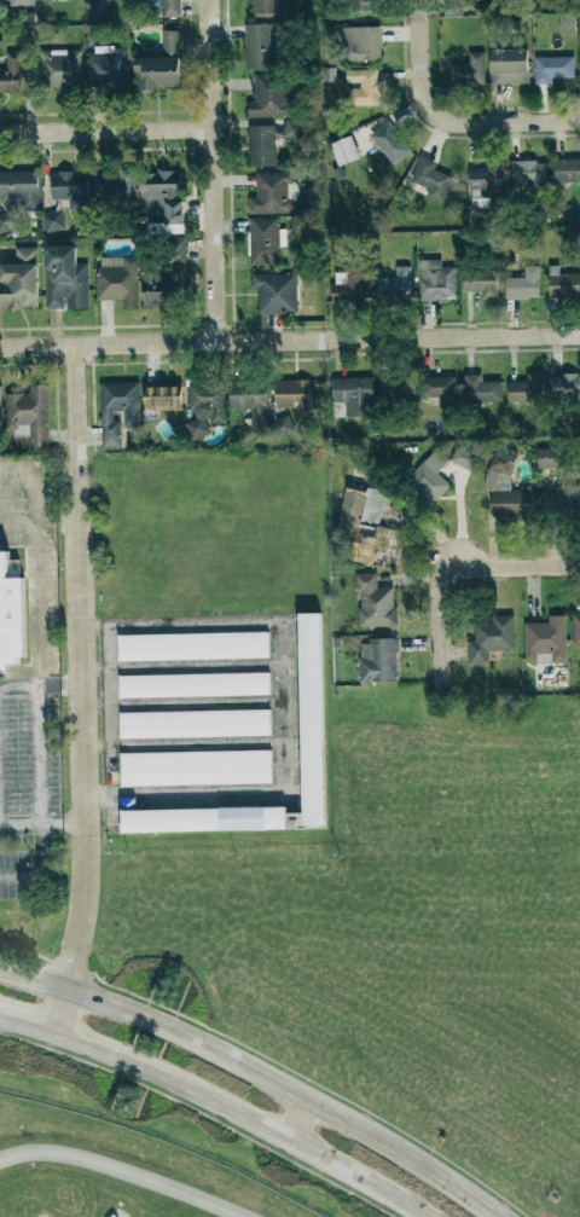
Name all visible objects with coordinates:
building: (51, 0)
building: (21, 2)
building: (362, 5)
road: (414, 5)
building: (266, 7)
building: (454, 7)
building: (170, 8)
building: (94, 10)
building: (0, 40)
building: (361, 44)
building: (260, 47)
building: (161, 65)
building: (510, 66)
building: (108, 69)
building: (552, 69)
building: (62, 70)
building: (469, 71)
building: (11, 74)
building: (364, 87)
building: (269, 97)
road: (449, 122)
road: (105, 132)
building: (269, 141)
building: (390, 143)
building: (567, 170)
road: (213, 172)
building: (529, 174)
building: (430, 179)
building: (486, 180)
building: (116, 187)
building: (70, 189)
building: (17, 193)
building: (273, 193)
building: (162, 201)
building: (53, 221)
building: (265, 242)
building: (164, 276)
building: (65, 279)
building: (19, 280)
building: (117, 280)
building: (435, 280)
building: (352, 283)
building: (481, 283)
building: (563, 284)
building: (395, 285)
building: (524, 285)
building: (275, 292)
road: (289, 341)
building: (564, 387)
building: (396, 388)
building: (440, 389)
building: (481, 390)
building: (526, 390)
building: (354, 395)
building: (294, 398)
building: (162, 399)
building: (250, 400)
building: (205, 407)
building: (0, 408)
building: (118, 410)
building: (30, 416)
building: (280, 427)
building: (463, 458)
building: (551, 458)
building: (429, 477)
building: (506, 492)
building: (562, 502)
building: (360, 506)
road: (17, 522)
building: (378, 545)
road: (516, 567)
building: (375, 603)
building: (11, 615)
road: (437, 624)
building: (575, 630)
building: (491, 639)
building: (545, 641)
building: (192, 647)
road: (39, 659)
building: (378, 661)
building: (195, 685)
road: (19, 688)
road: (60, 689)
road: (83, 692)
building: (313, 721)
building: (196, 725)
building: (198, 770)
building: (205, 818)
road: (65, 822)
road: (21, 823)
road: (22, 875)
road: (27, 1027)
road: (256, 1072)
road: (202, 1114)
road: (242, 1115)
road: (303, 1122)
road: (123, 1171)
airport: (111, 1175)

